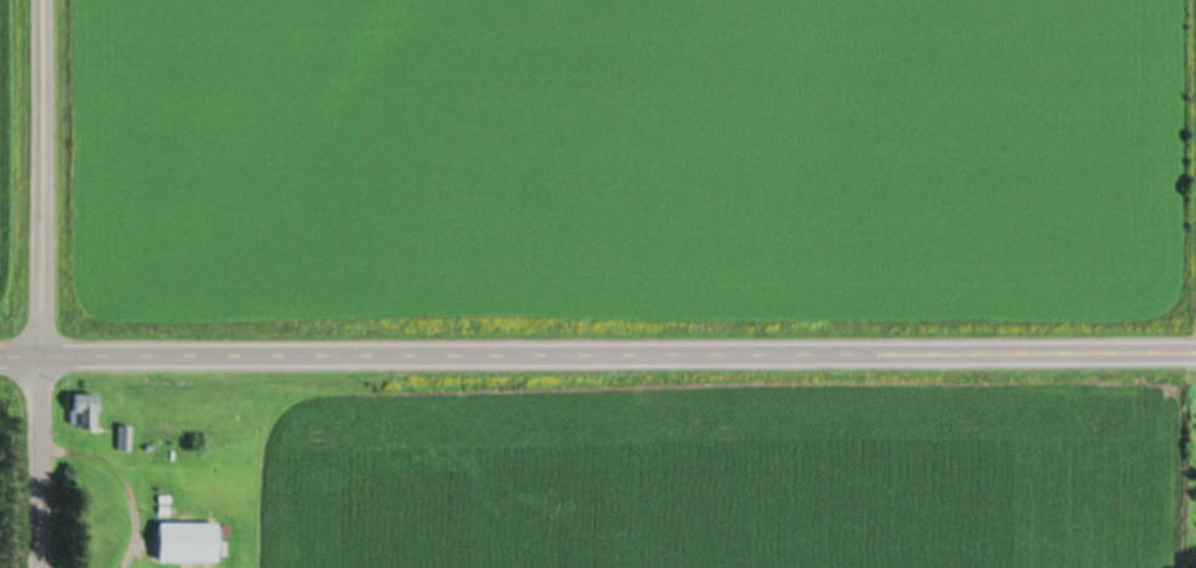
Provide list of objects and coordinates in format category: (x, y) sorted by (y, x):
road: (41, 283)
road: (597, 356)
building: (82, 412)
building: (184, 541)

